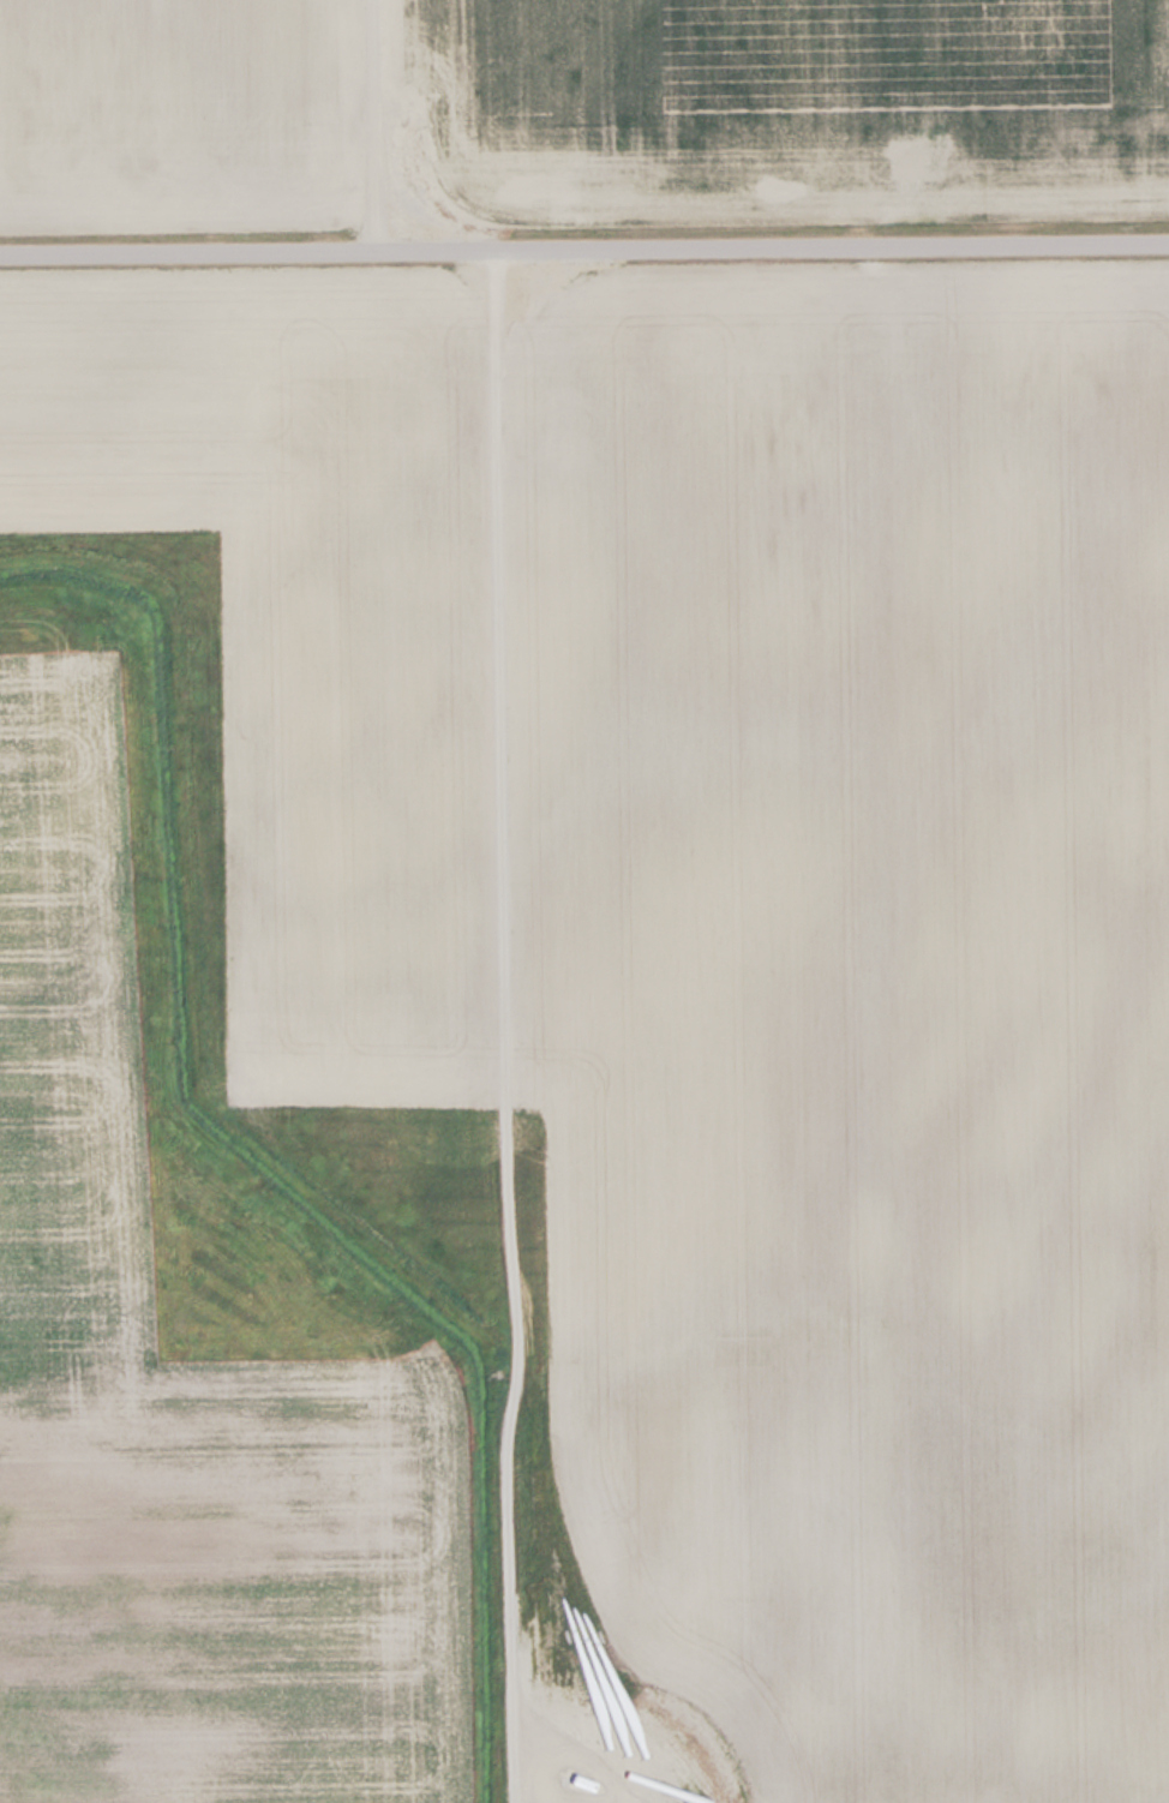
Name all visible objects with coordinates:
road: (584, 251)

